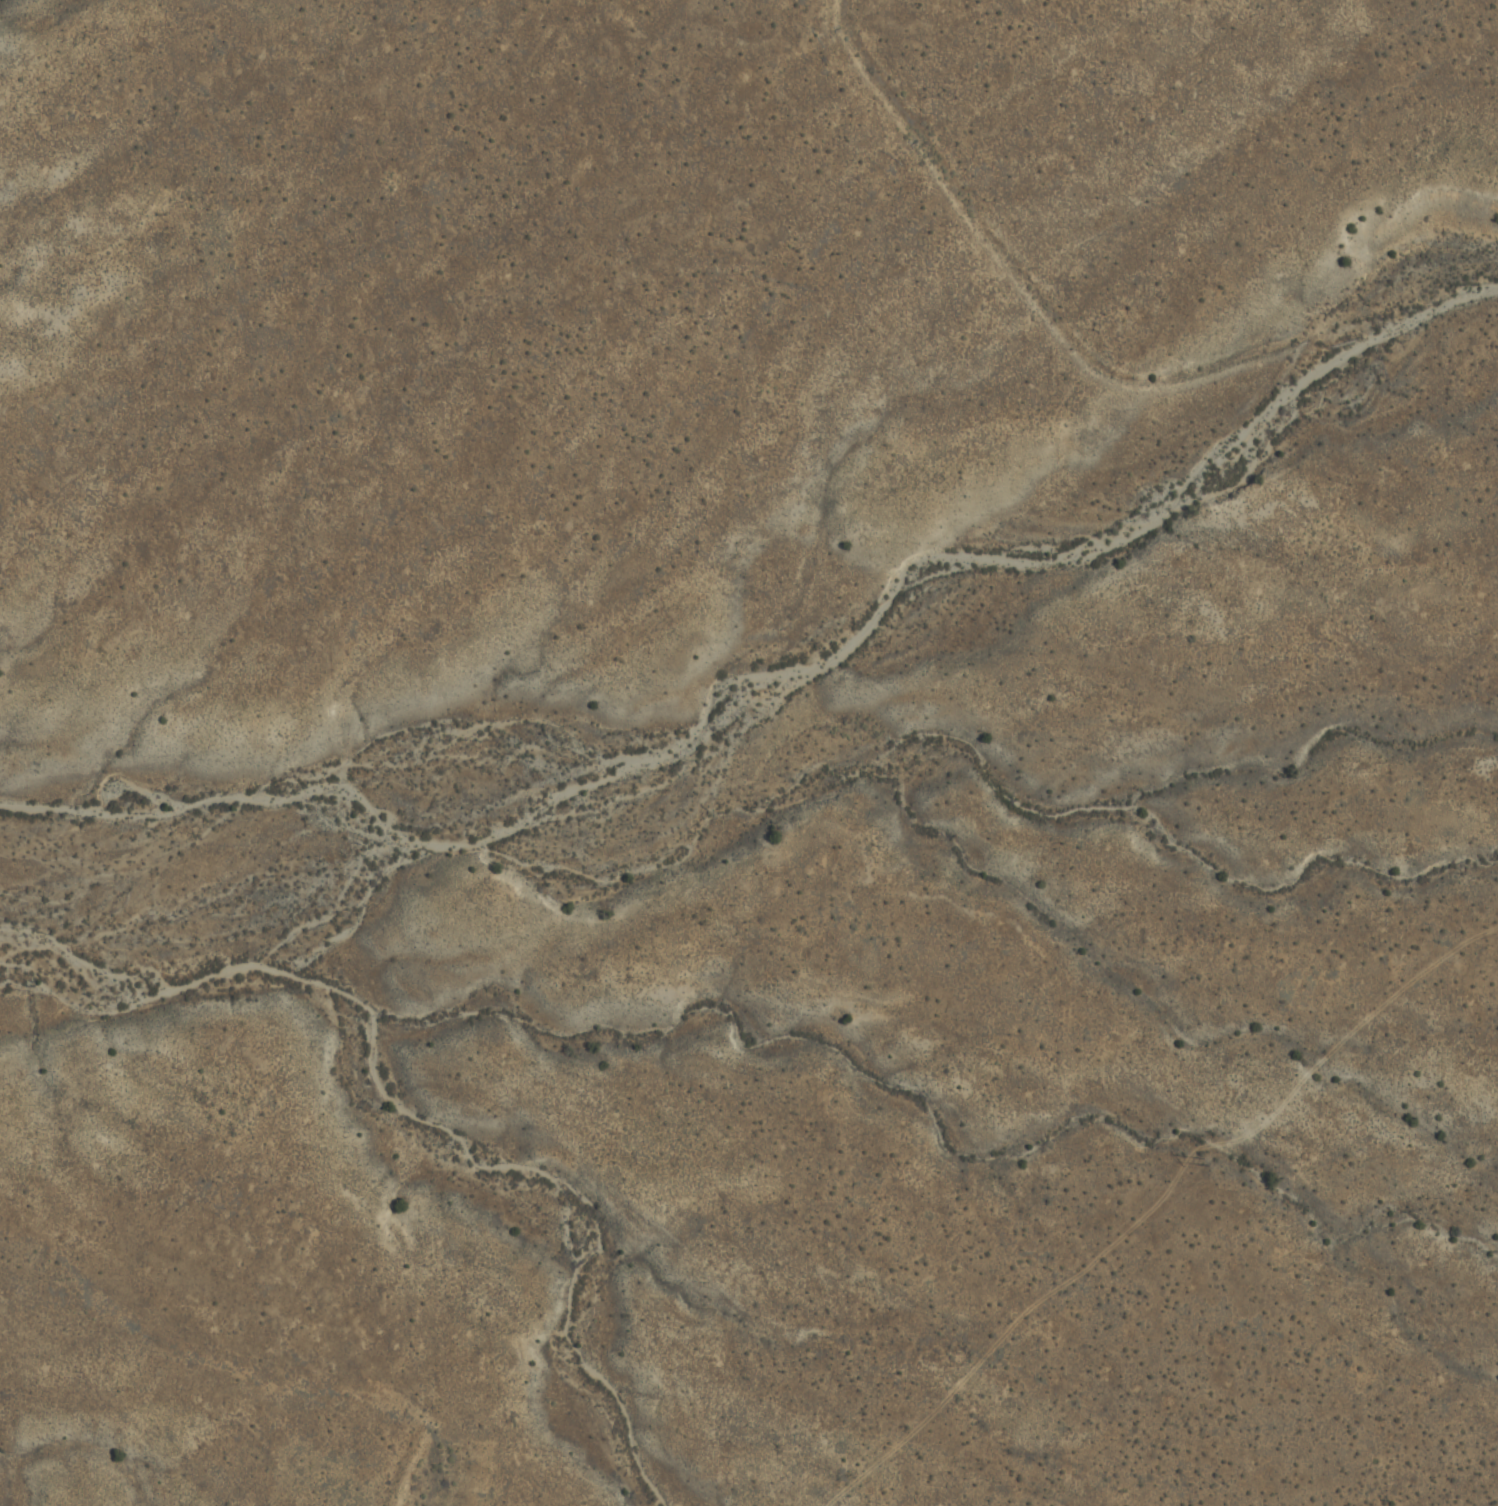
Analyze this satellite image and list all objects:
power tower: (1201, 1155)

